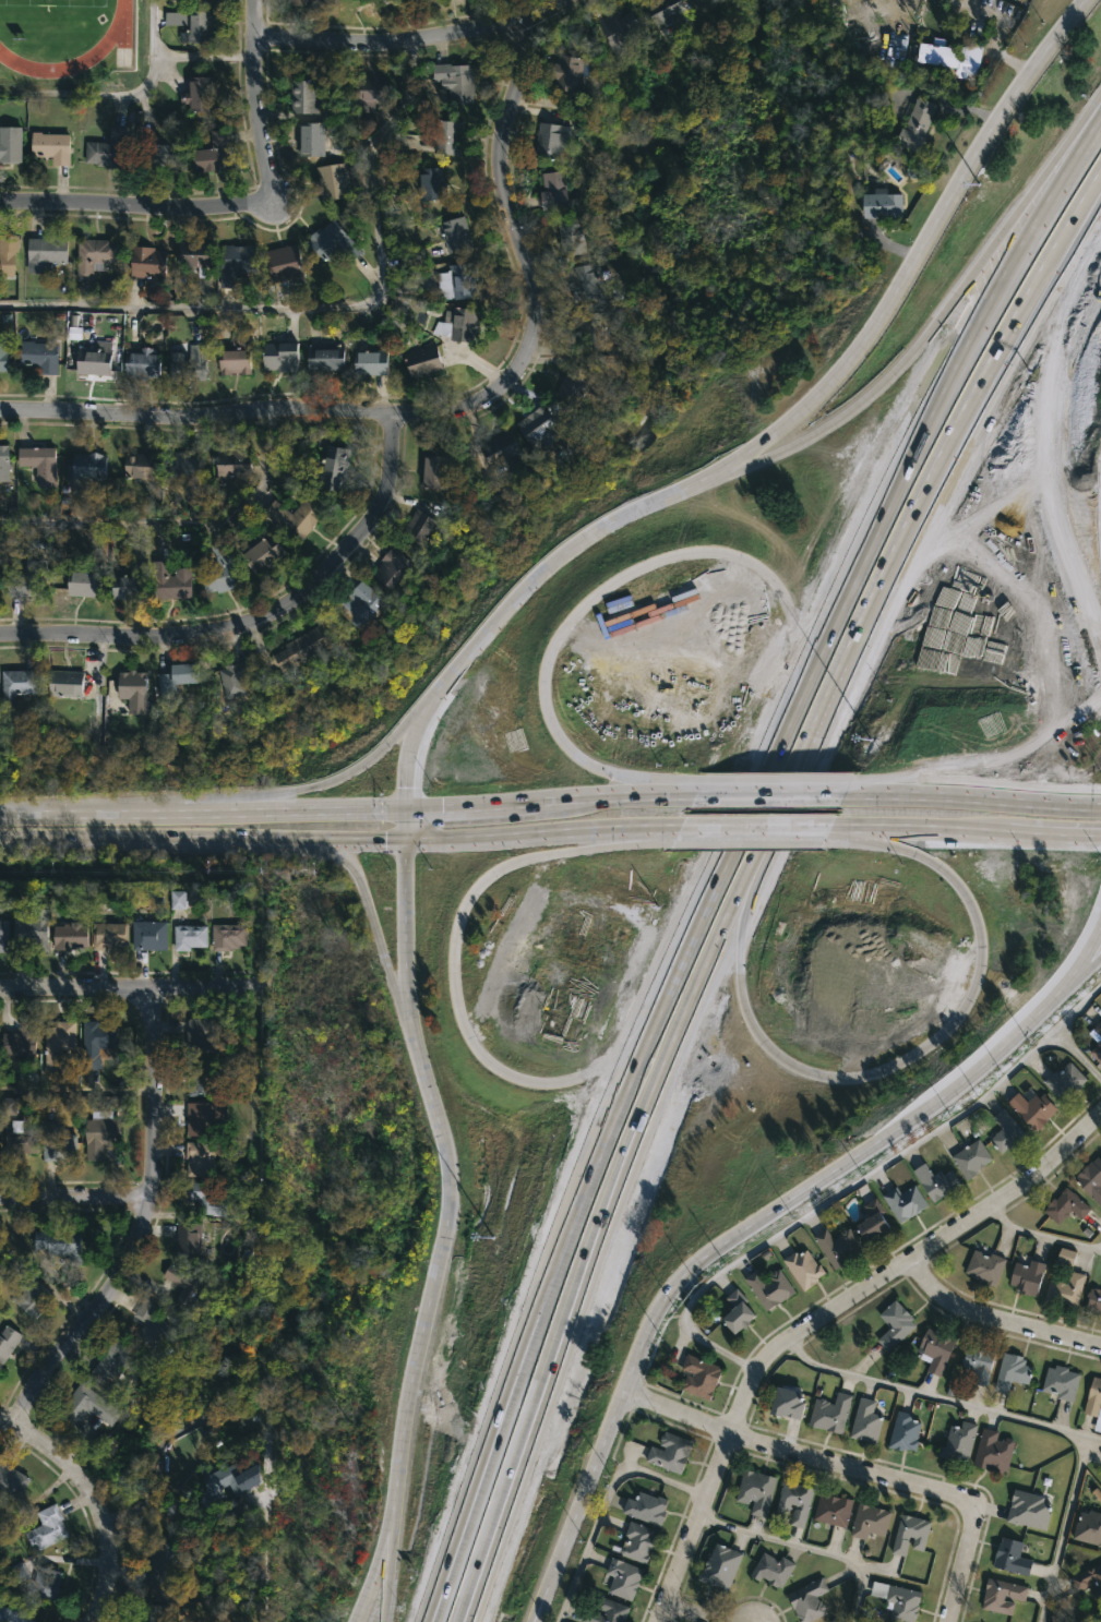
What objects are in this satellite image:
building: (301, 1)
park: (50, 3)
building: (661, 9)
building: (199, 26)
road: (998, 28)
building: (618, 32)
road: (408, 37)
park: (68, 43)
building: (953, 56)
road: (202, 59)
building: (570, 72)
building: (455, 80)
road: (116, 92)
building: (367, 93)
building: (196, 94)
building: (302, 96)
road: (254, 100)
road: (1082, 117)
building: (917, 123)
building: (447, 136)
building: (310, 139)
building: (548, 141)
building: (10, 144)
building: (50, 146)
building: (152, 148)
building: (107, 149)
building: (212, 154)
road: (372, 177)
building: (332, 181)
building: (431, 183)
building: (552, 190)
road: (1086, 194)
road: (1086, 203)
road: (136, 204)
building: (883, 205)
building: (455, 235)
building: (570, 237)
building: (328, 242)
building: (45, 253)
building: (7, 255)
building: (191, 255)
building: (93, 256)
building: (147, 262)
building: (235, 263)
building: (284, 263)
building: (457, 281)
building: (585, 281)
road: (232, 308)
road: (937, 316)
building: (458, 325)
building: (590, 329)
building: (2, 352)
building: (37, 356)
building: (234, 357)
building: (279, 357)
building: (325, 358)
building: (94, 359)
building: (369, 360)
building: (188, 361)
building: (422, 361)
building: (142, 363)
building: (573, 384)
road: (932, 404)
road: (446, 409)
road: (961, 416)
building: (535, 425)
road: (765, 434)
road: (1052, 442)
building: (498, 449)
road: (751, 459)
building: (232, 462)
building: (3, 464)
building: (38, 464)
building: (184, 464)
building: (85, 466)
building: (141, 467)
building: (332, 469)
building: (434, 472)
building: (294, 518)
road: (175, 522)
building: (418, 528)
building: (258, 550)
building: (391, 567)
building: (219, 570)
building: (27, 579)
building: (171, 581)
building: (82, 585)
building: (129, 588)
building: (360, 606)
road: (259, 616)
building: (301, 649)
building: (176, 678)
building: (232, 680)
building: (64, 684)
building: (16, 685)
building: (133, 690)
road: (806, 742)
road: (326, 782)
traffic signals: (404, 784)
road: (769, 792)
road: (624, 795)
road: (923, 795)
road: (1053, 801)
road: (511, 804)
road: (435, 807)
traffic signals: (442, 808)
road: (201, 810)
road: (755, 828)
road: (918, 828)
road: (1053, 833)
road: (571, 834)
traffic signals: (1100, 836)
road: (231, 839)
traffic signals: (384, 842)
road: (721, 855)
road: (362, 897)
building: (179, 900)
building: (29, 927)
building: (108, 934)
building: (148, 934)
building: (2, 935)
building: (69, 935)
building: (189, 936)
building: (227, 936)
road: (1079, 971)
road: (119, 993)
road: (695, 995)
building: (204, 1033)
building: (20, 1038)
building: (58, 1040)
building: (1096, 1041)
building: (96, 1042)
building: (199, 1077)
building: (1065, 1082)
building: (1033, 1108)
building: (200, 1118)
building: (101, 1129)
building: (1007, 1132)
building: (20, 1136)
building: (57, 1144)
road: (595, 1144)
building: (199, 1158)
building: (970, 1158)
building: (1091, 1179)
road: (850, 1181)
building: (937, 1181)
building: (205, 1197)
road: (73, 1198)
building: (905, 1201)
building: (1066, 1205)
road: (443, 1217)
building: (872, 1221)
road: (753, 1224)
road: (1041, 1234)
building: (188, 1238)
building: (60, 1243)
building: (838, 1246)
building: (1065, 1257)
building: (984, 1266)
building: (803, 1269)
building: (1027, 1276)
building: (182, 1284)
building: (768, 1287)
building: (1065, 1289)
building: (31, 1299)
building: (1093, 1300)
building: (737, 1312)
road: (817, 1322)
road: (996, 1323)
building: (152, 1325)
building: (895, 1325)
road: (73, 1327)
building: (7, 1341)
building: (936, 1349)
building: (110, 1362)
building: (978, 1363)
road: (552, 1370)
building: (1012, 1372)
building: (699, 1377)
building: (1061, 1382)
road: (940, 1398)
building: (788, 1402)
building: (1094, 1403)
building: (85, 1407)
building: (830, 1413)
road: (4, 1417)
building: (865, 1421)
building: (903, 1432)
building: (958, 1442)
road: (768, 1445)
building: (993, 1451)
road: (482, 1452)
building: (670, 1452)
building: (220, 1478)
building: (11, 1480)
building: (756, 1491)
road: (602, 1502)
building: (794, 1502)
road: (134, 1506)
building: (646, 1507)
building: (833, 1510)
building: (1029, 1511)
building: (869, 1522)
building: (46, 1527)
road: (1062, 1528)
building: (1089, 1528)
building: (909, 1535)
road: (971, 1535)
building: (637, 1542)
road: (805, 1545)
building: (1010, 1557)
building: (160, 1565)
building: (719, 1567)
building: (773, 1570)
road: (384, 1573)
building: (623, 1579)
building: (1088, 1581)
building: (45, 1585)
building: (1002, 1596)
building: (807, 1600)
building: (897, 1600)
building: (606, 1611)
building: (155, 1612)
building: (11, 1615)
road: (382, 1615)
road: (679, 1615)

